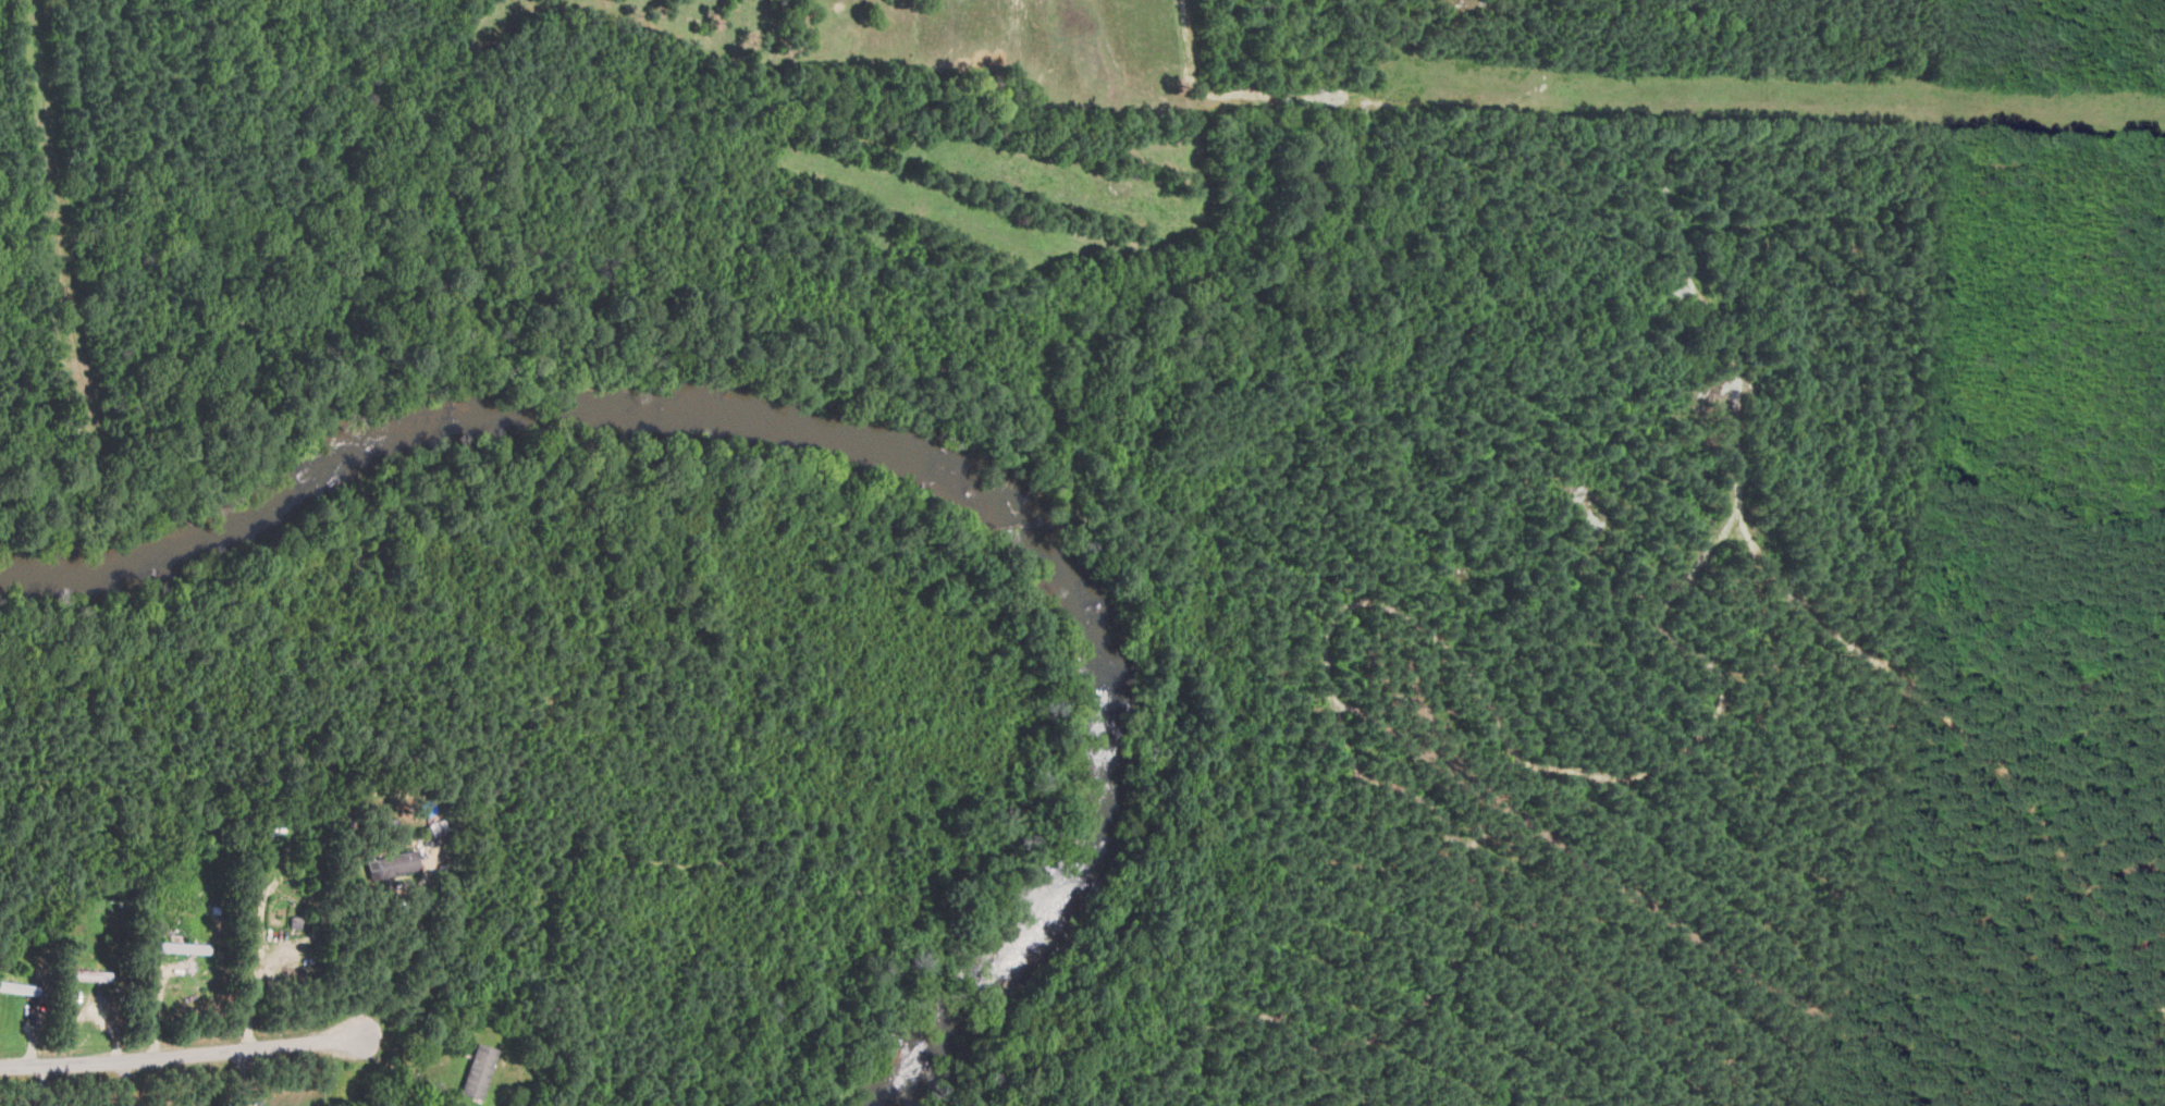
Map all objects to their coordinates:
river: (485, 410)
river: (1124, 809)
building: (394, 864)
building: (185, 947)
road: (396, 956)
road: (249, 1004)
road: (183, 1055)
road: (414, 1068)
building: (479, 1071)
road: (125, 1083)

